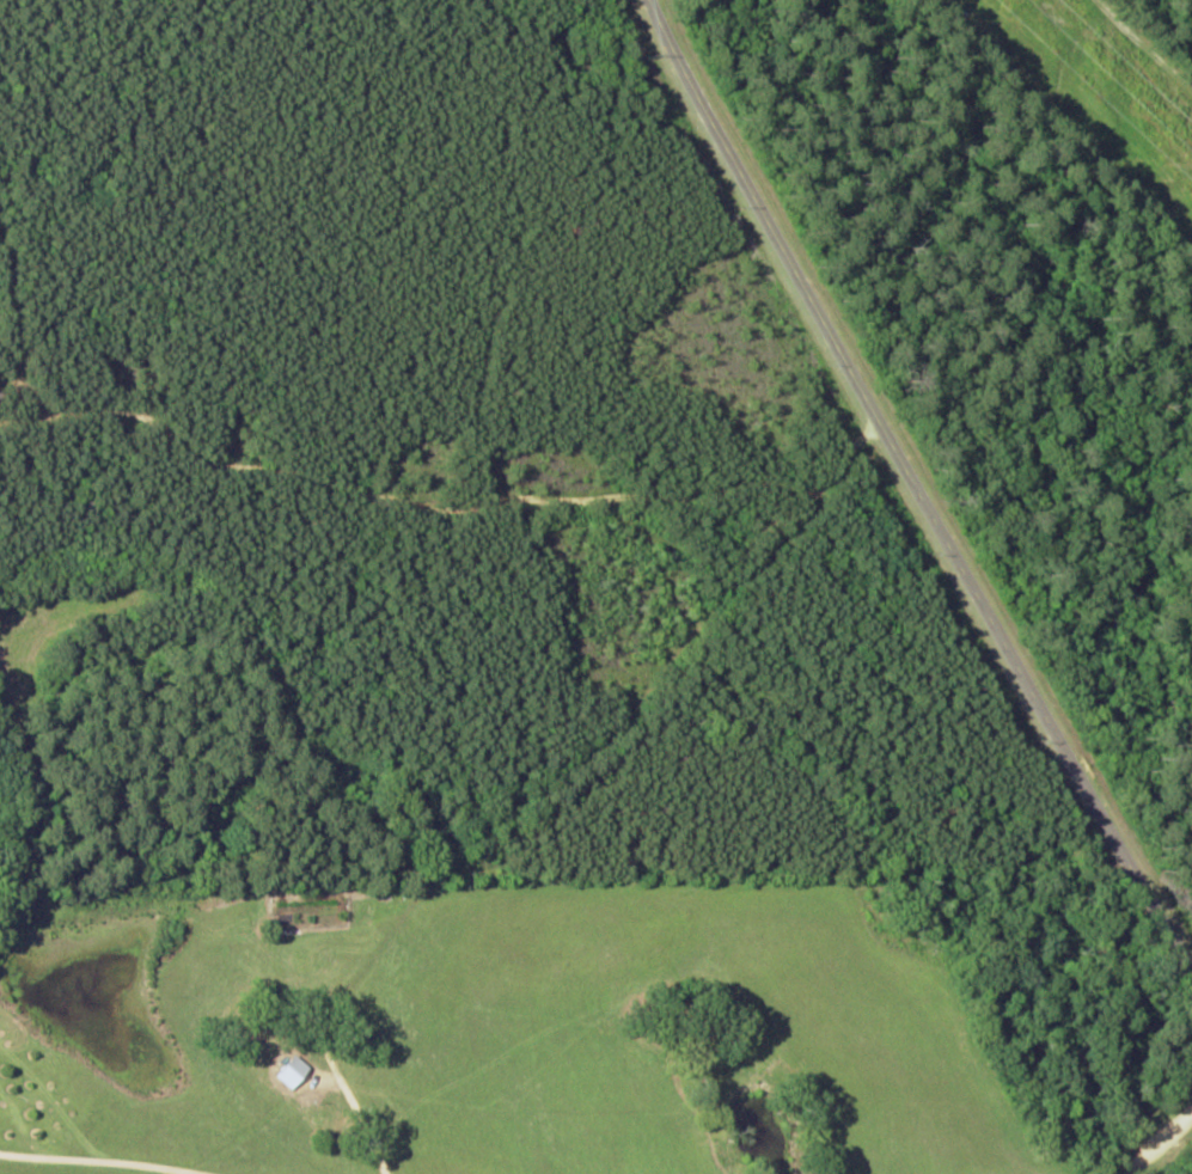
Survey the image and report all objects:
road: (393, 508)
road: (910, 521)
road: (613, 713)
building: (292, 1071)

